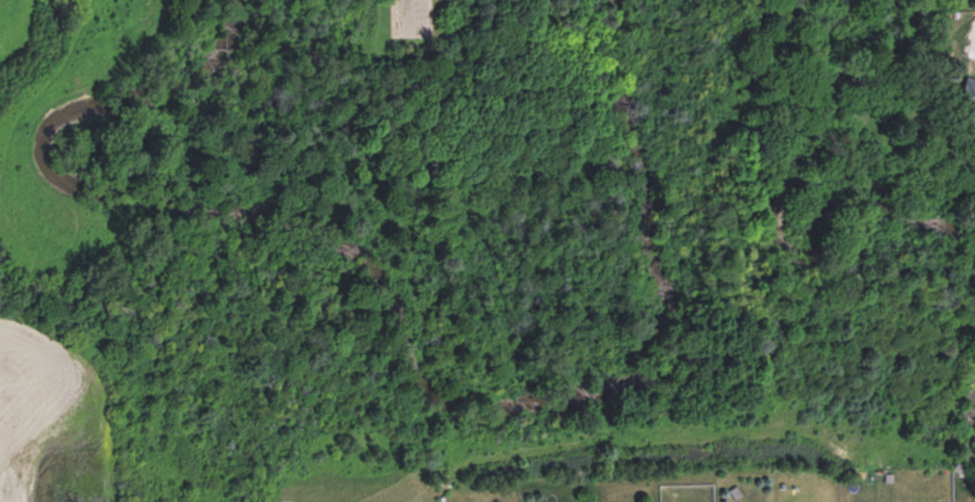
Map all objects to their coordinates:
building: (966, 95)
road: (5, 451)

